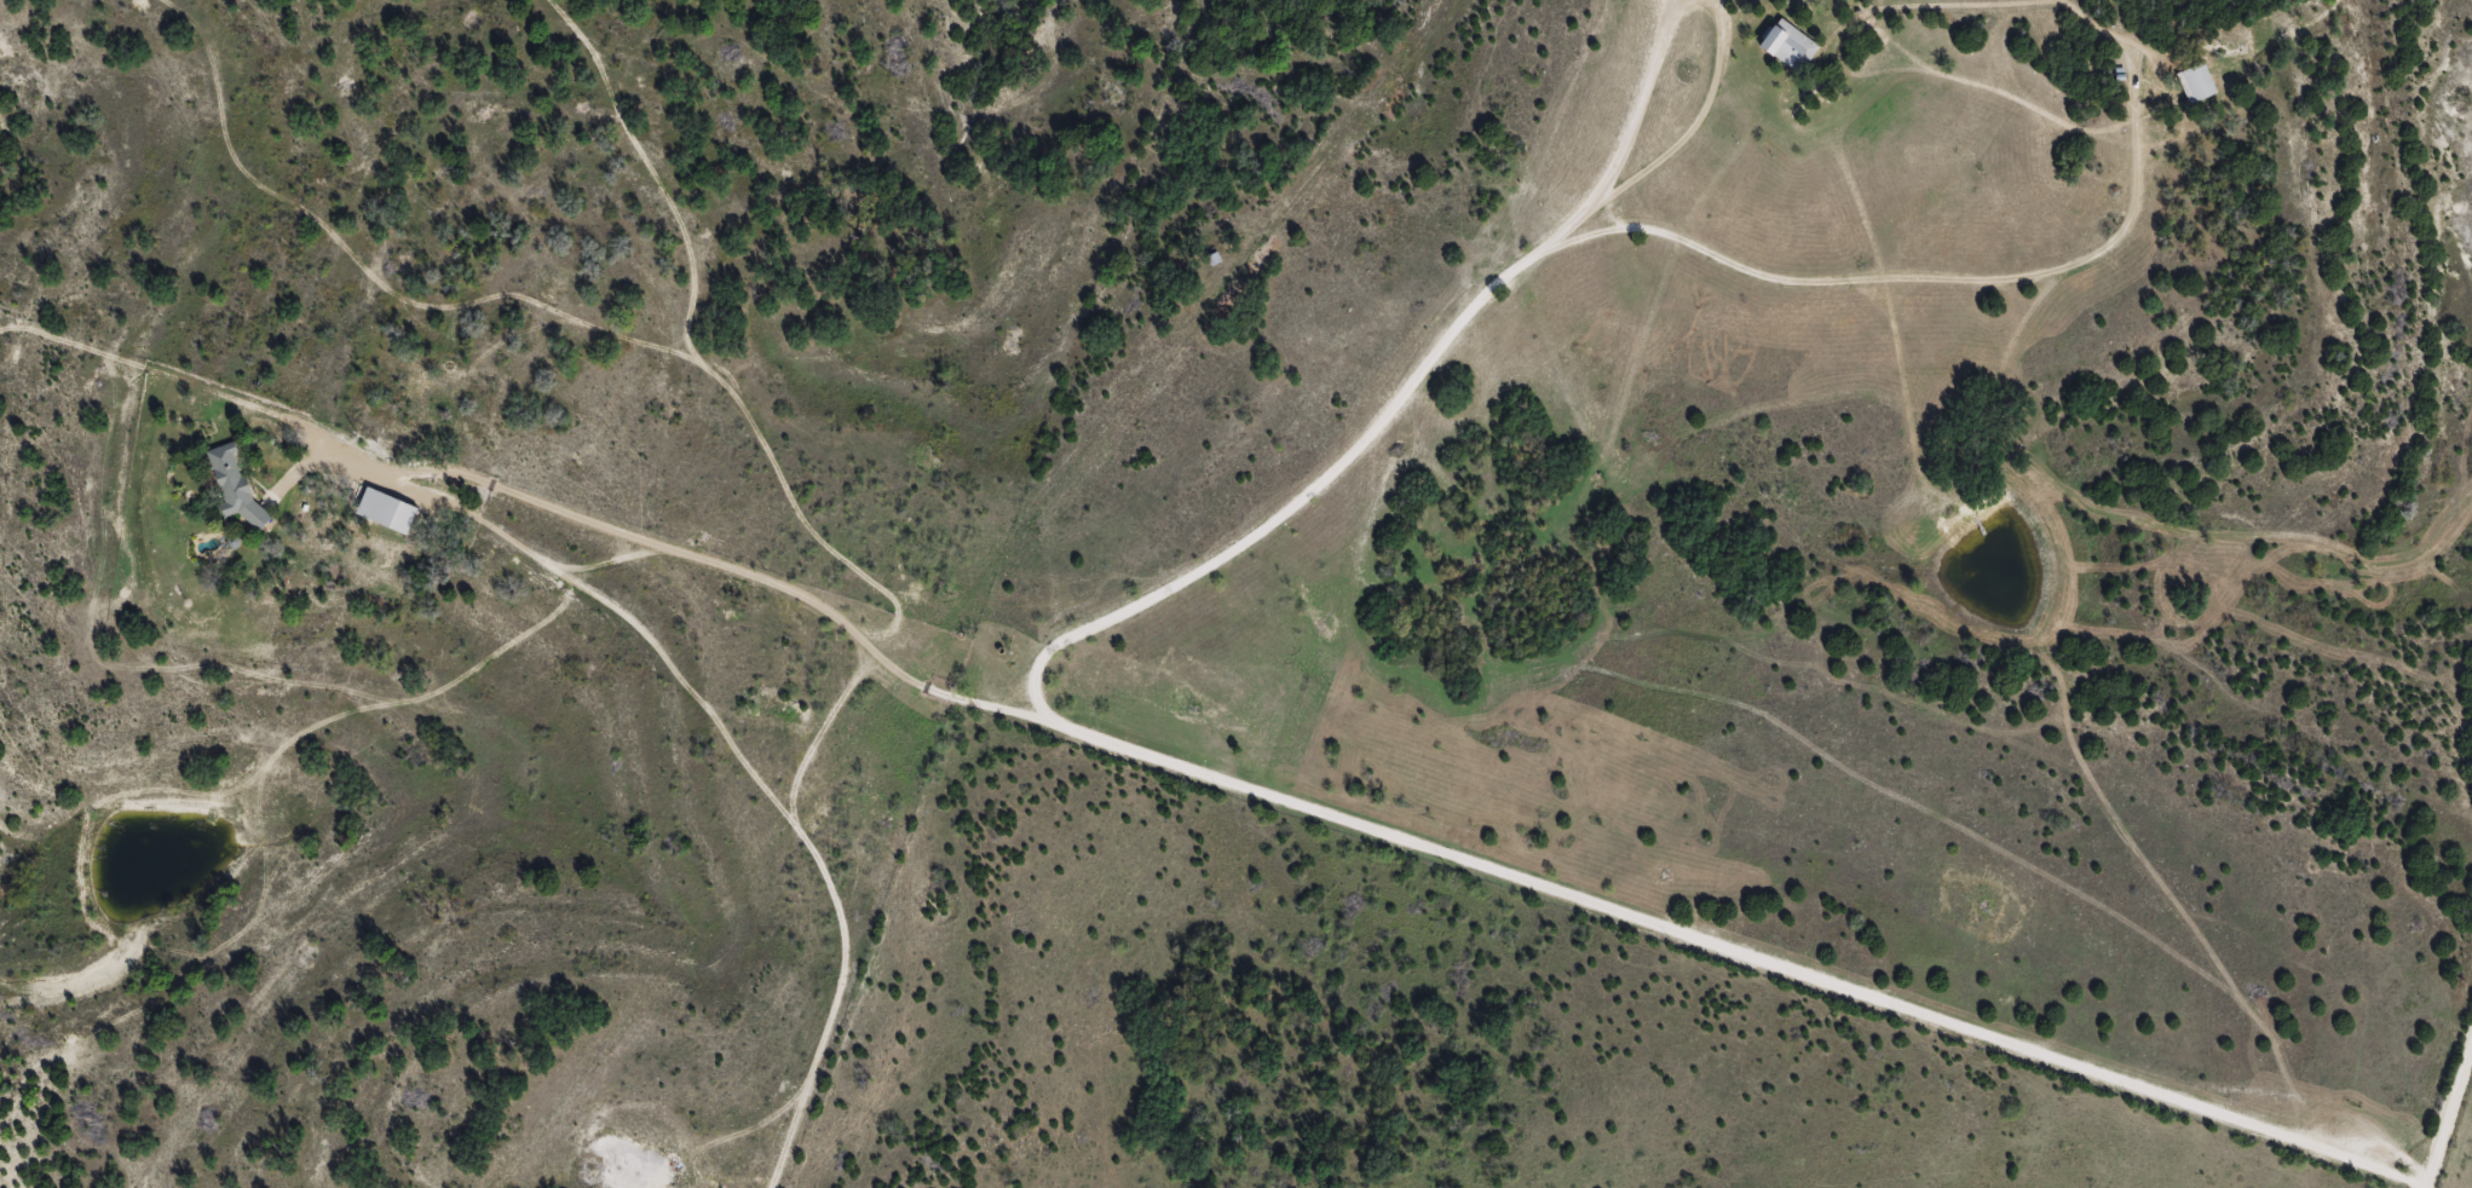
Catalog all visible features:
building: (1788, 45)
building: (2196, 82)
building: (234, 481)
building: (386, 509)
road: (1460, 865)
road: (2457, 1154)

